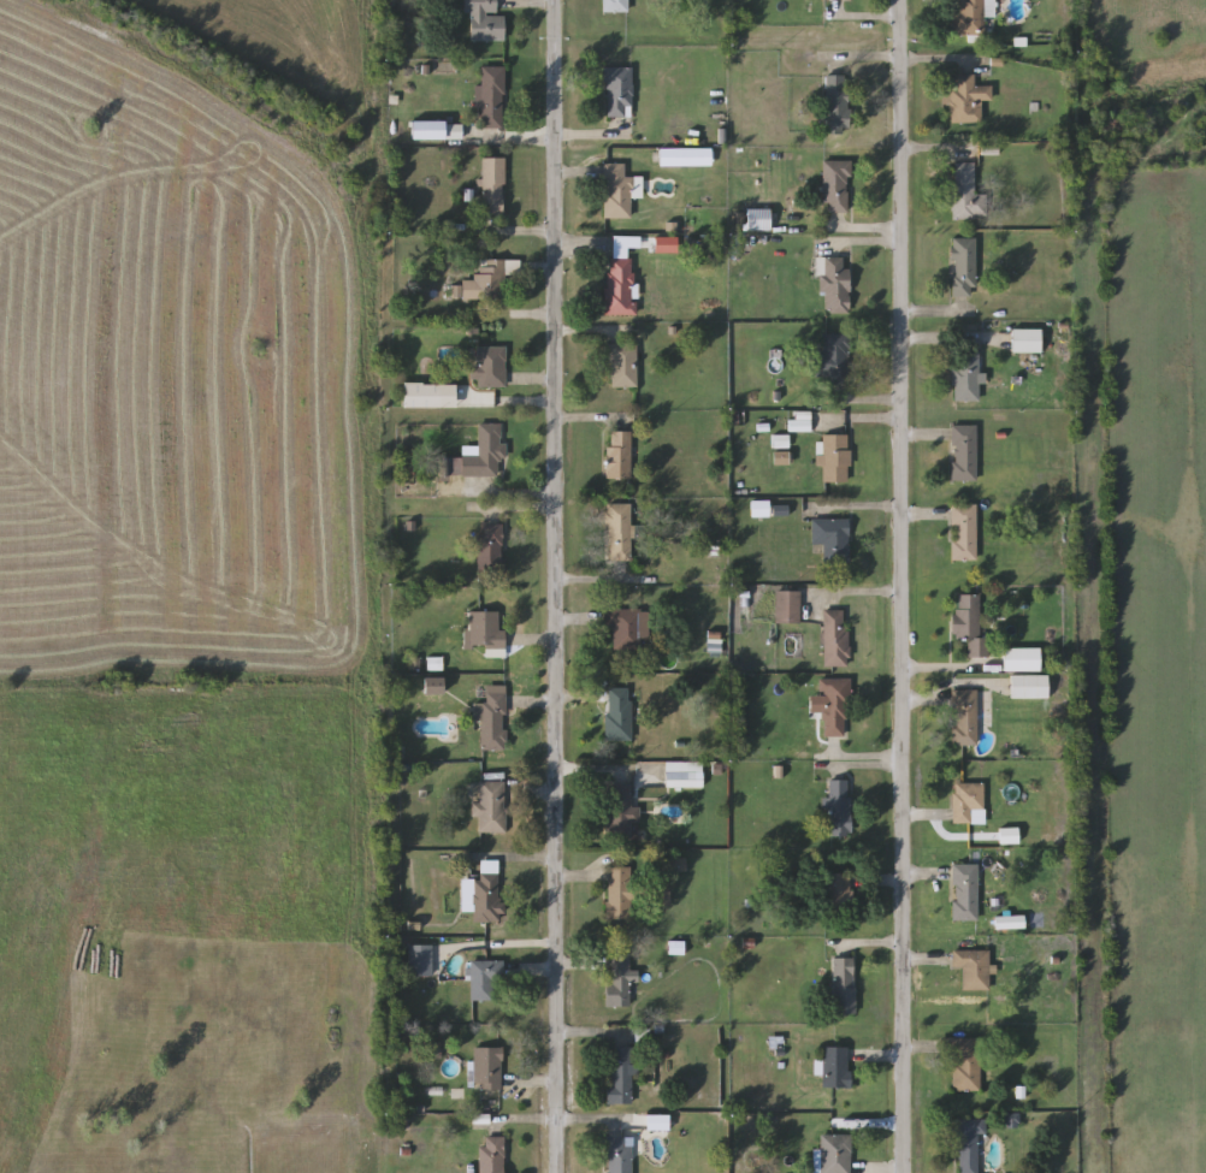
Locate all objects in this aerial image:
building: (840, 0)
building: (616, 6)
building: (970, 17)
road: (865, 19)
building: (485, 22)
road: (935, 61)
building: (619, 93)
building: (492, 97)
building: (968, 99)
building: (836, 105)
road: (551, 140)
road: (940, 152)
building: (492, 186)
building: (836, 186)
building: (617, 191)
building: (966, 194)
building: (757, 220)
road: (867, 231)
road: (542, 236)
road: (864, 244)
building: (964, 266)
building: (620, 274)
building: (490, 279)
building: (835, 285)
road: (936, 314)
road: (593, 337)
building: (1025, 340)
road: (939, 343)
building: (830, 360)
building: (622, 366)
building: (490, 367)
building: (964, 377)
road: (537, 380)
road: (593, 421)
road: (856, 423)
building: (484, 452)
building: (963, 454)
building: (619, 457)
building: (835, 460)
road: (512, 496)
road: (520, 510)
road: (853, 510)
building: (619, 533)
building: (963, 533)
building: (832, 540)
building: (490, 549)
road: (557, 562)
road: (901, 586)
road: (859, 596)
building: (788, 608)
building: (970, 626)
building: (625, 628)
building: (486, 633)
building: (835, 639)
building: (1021, 660)
road: (945, 669)
building: (433, 686)
building: (1029, 687)
building: (835, 707)
building: (619, 715)
building: (493, 718)
building: (964, 718)
road: (867, 763)
building: (684, 775)
building: (969, 804)
building: (491, 806)
building: (840, 808)
building: (621, 811)
building: (839, 891)
building: (965, 891)
building: (662, 893)
building: (621, 894)
building: (487, 897)
road: (865, 946)
building: (421, 961)
building: (973, 968)
building: (485, 978)
building: (619, 981)
building: (844, 987)
road: (861, 1061)
building: (965, 1065)
building: (836, 1068)
building: (487, 1070)
building: (621, 1077)
building: (968, 1147)
road: (557, 1148)
building: (835, 1154)
building: (493, 1155)
building: (619, 1155)

